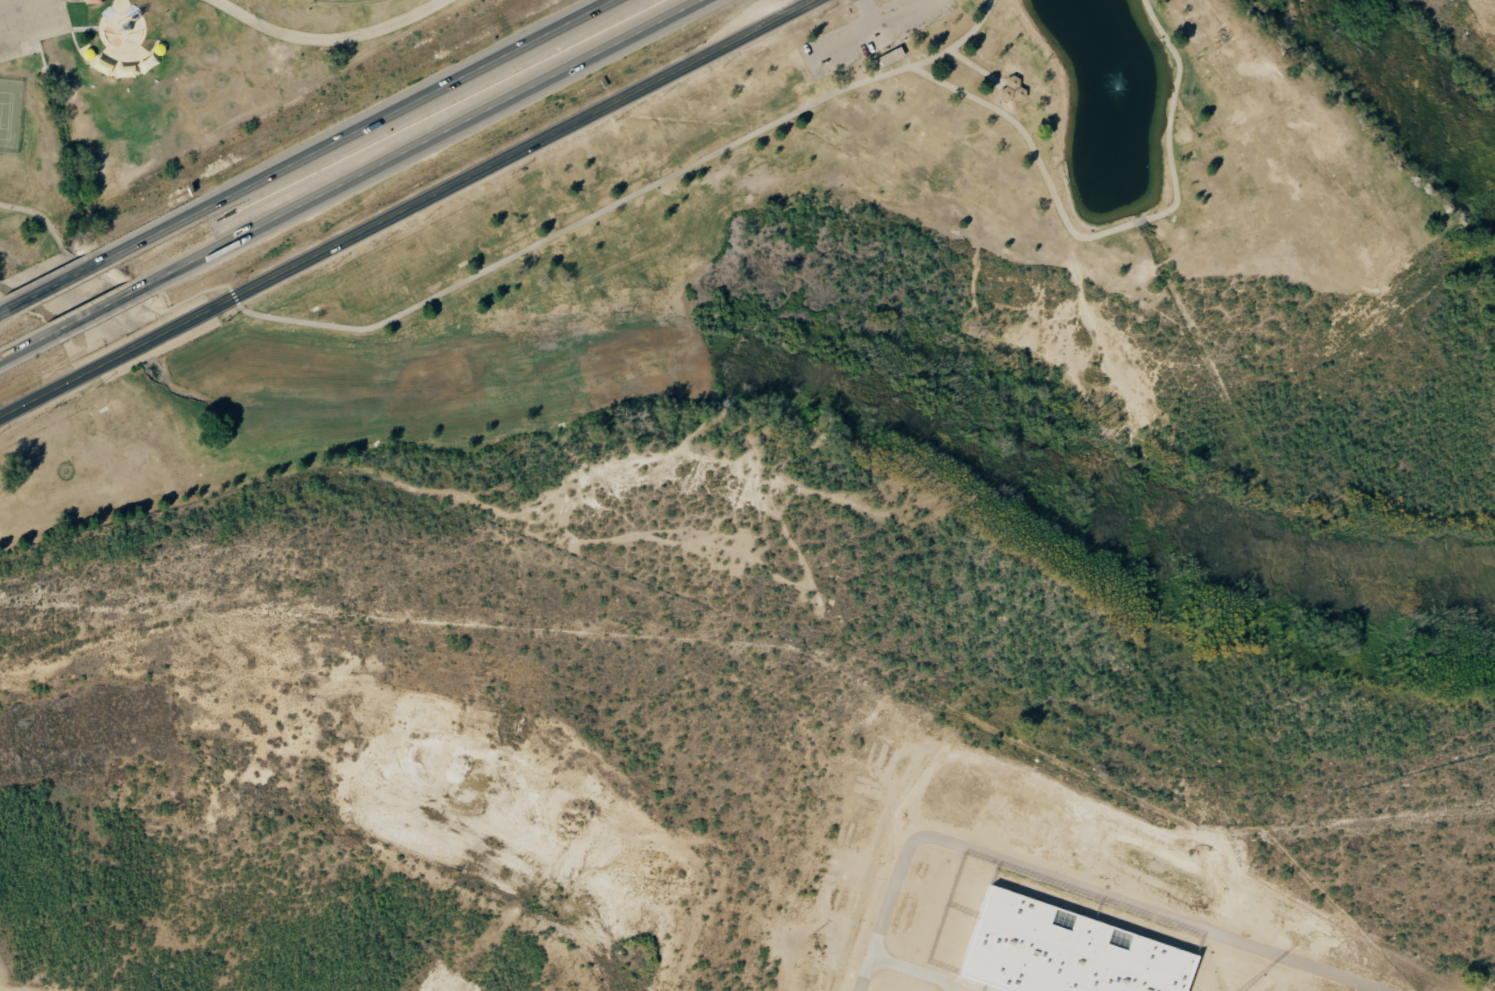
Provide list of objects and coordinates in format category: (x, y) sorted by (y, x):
park: (343, 0)
building: (93, 1)
road: (868, 14)
road: (872, 29)
road: (330, 39)
building: (889, 56)
road: (975, 67)
building: (1010, 89)
park: (183, 102)
park: (9, 113)
road: (356, 129)
road: (422, 140)
road: (409, 208)
road: (1068, 222)
road: (59, 281)
road: (444, 293)
road: (102, 306)
road: (7, 307)
road: (27, 344)
park: (969, 400)
building: (1068, 951)

